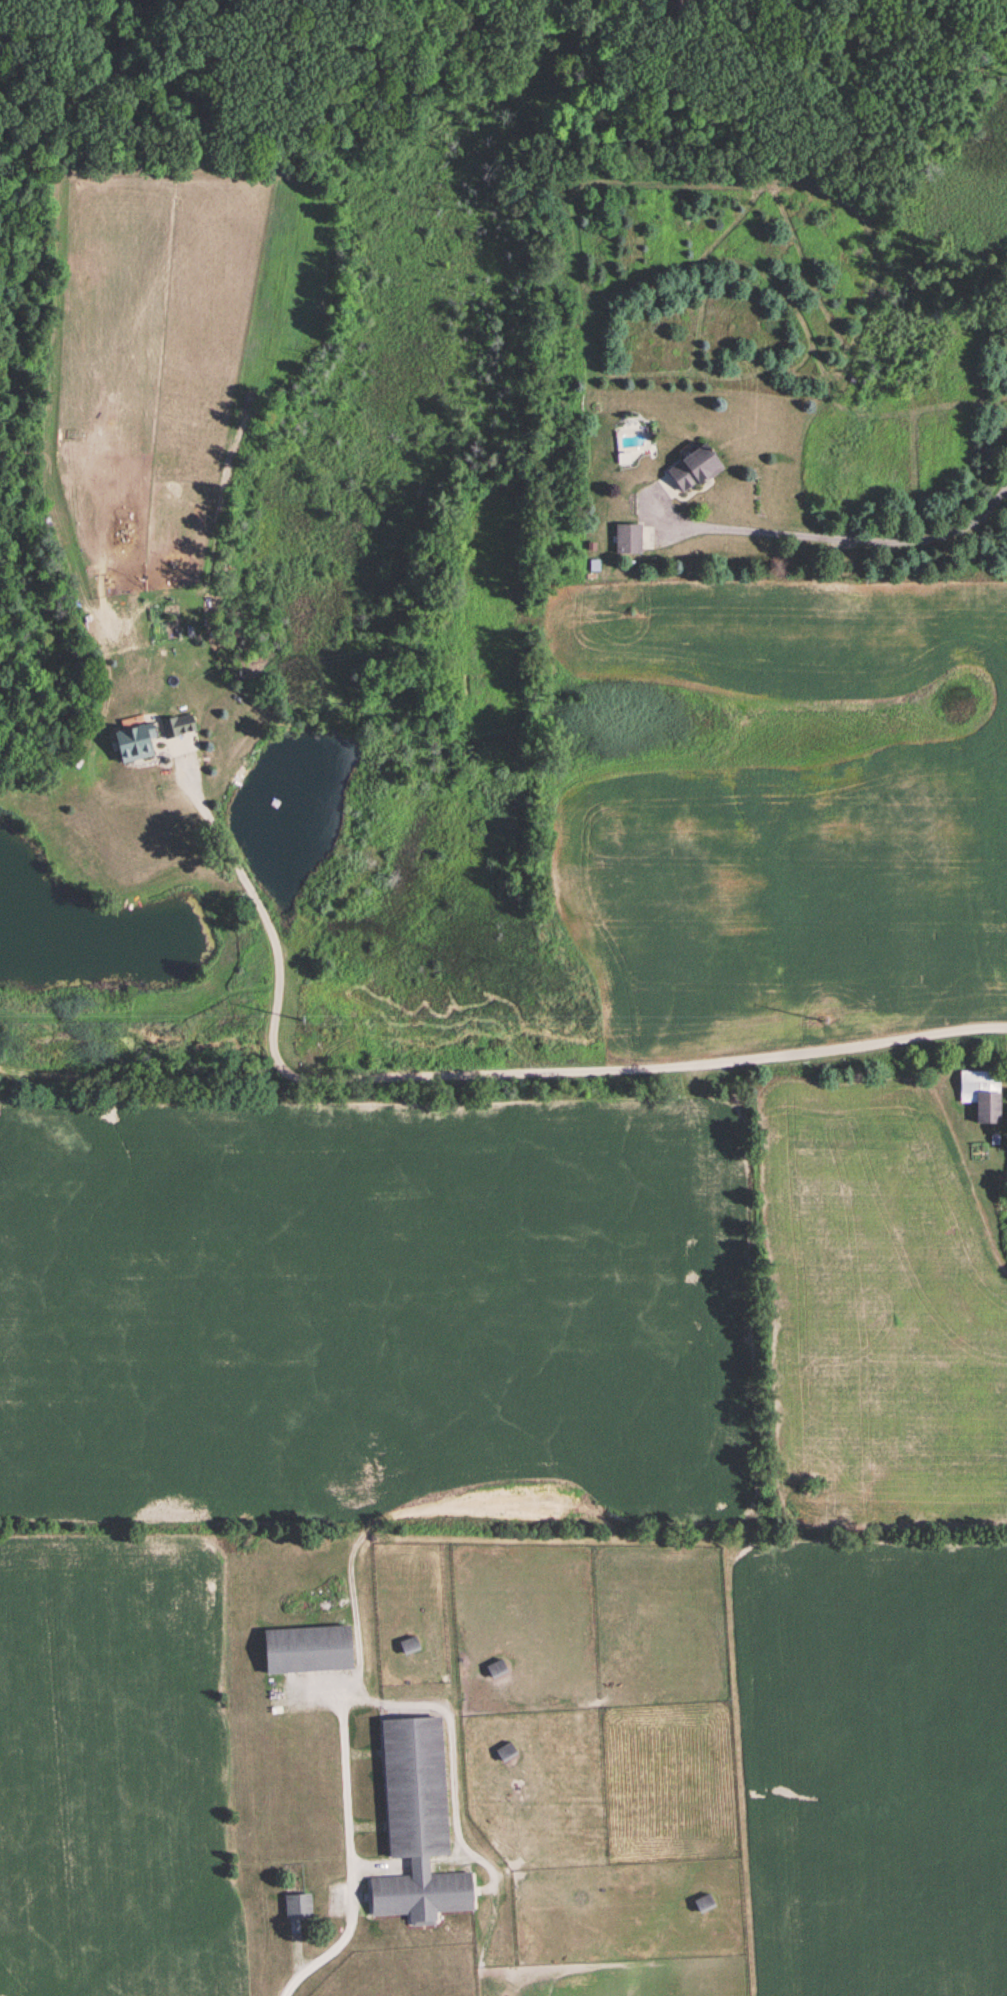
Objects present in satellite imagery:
building: (672, 1)
building: (692, 466)
building: (626, 536)
road: (849, 537)
building: (176, 723)
building: (133, 740)
crop: (792, 810)
power tower: (824, 1017)
power tower: (304, 1018)
road: (484, 1072)
building: (980, 1091)
crop: (369, 1302)
crop: (879, 1309)
building: (408, 1643)
building: (306, 1647)
building: (495, 1666)
building: (505, 1749)
crop: (877, 1766)
crop: (115, 1768)
building: (415, 1822)
road: (345, 1839)
building: (703, 1900)
building: (296, 1903)

